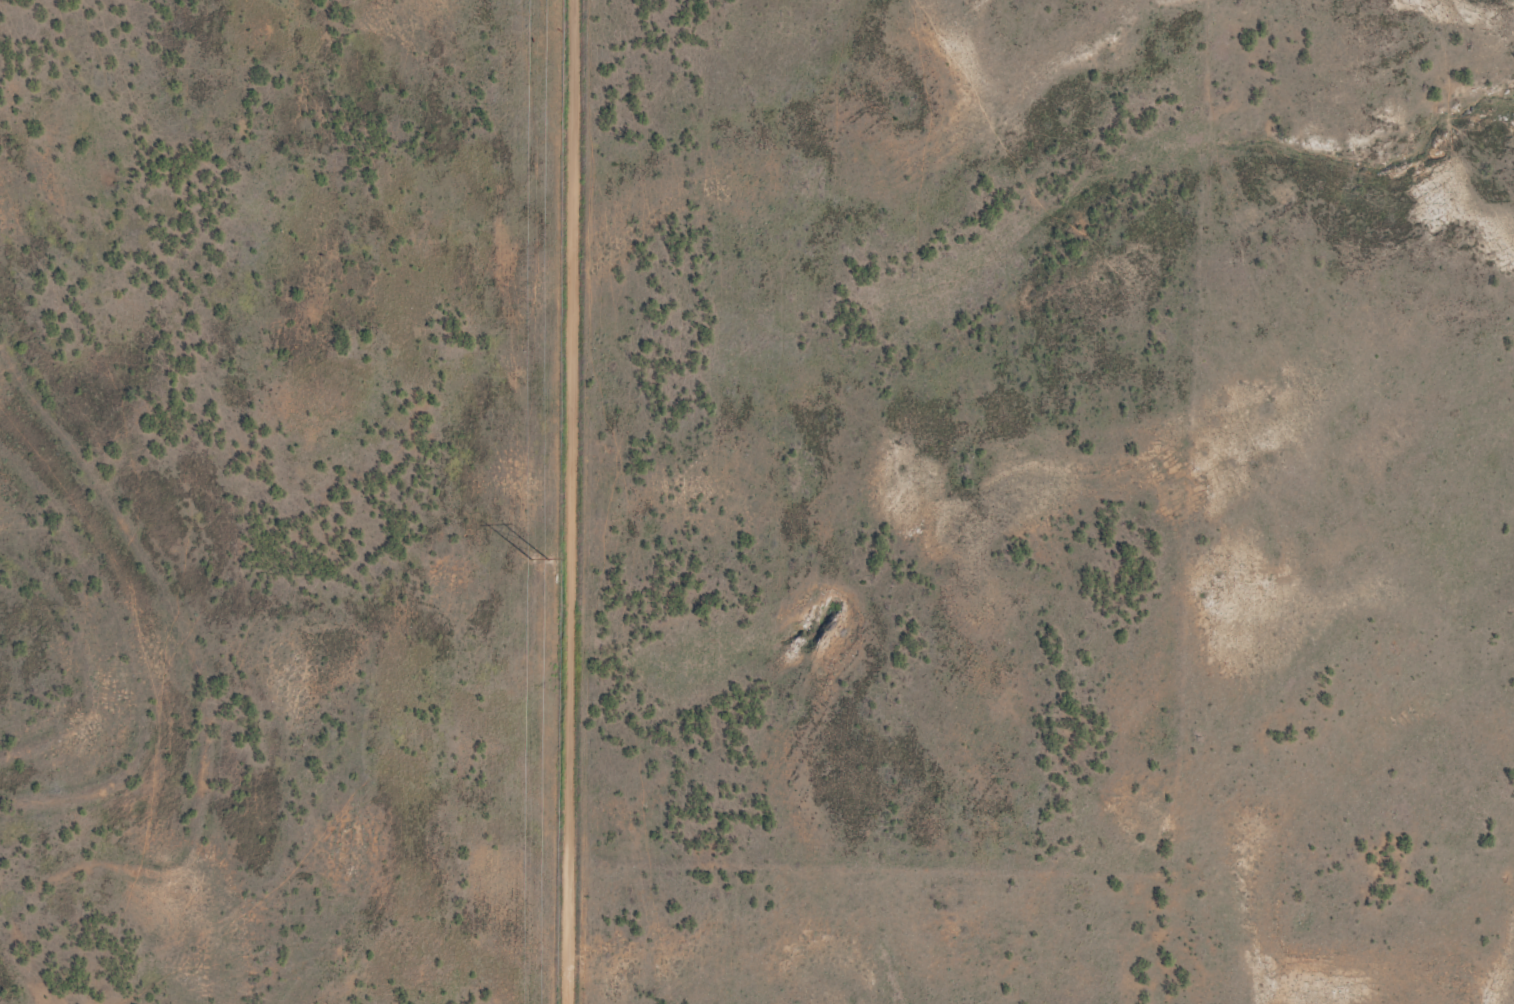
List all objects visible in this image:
road: (577, 502)
power tower: (539, 569)

